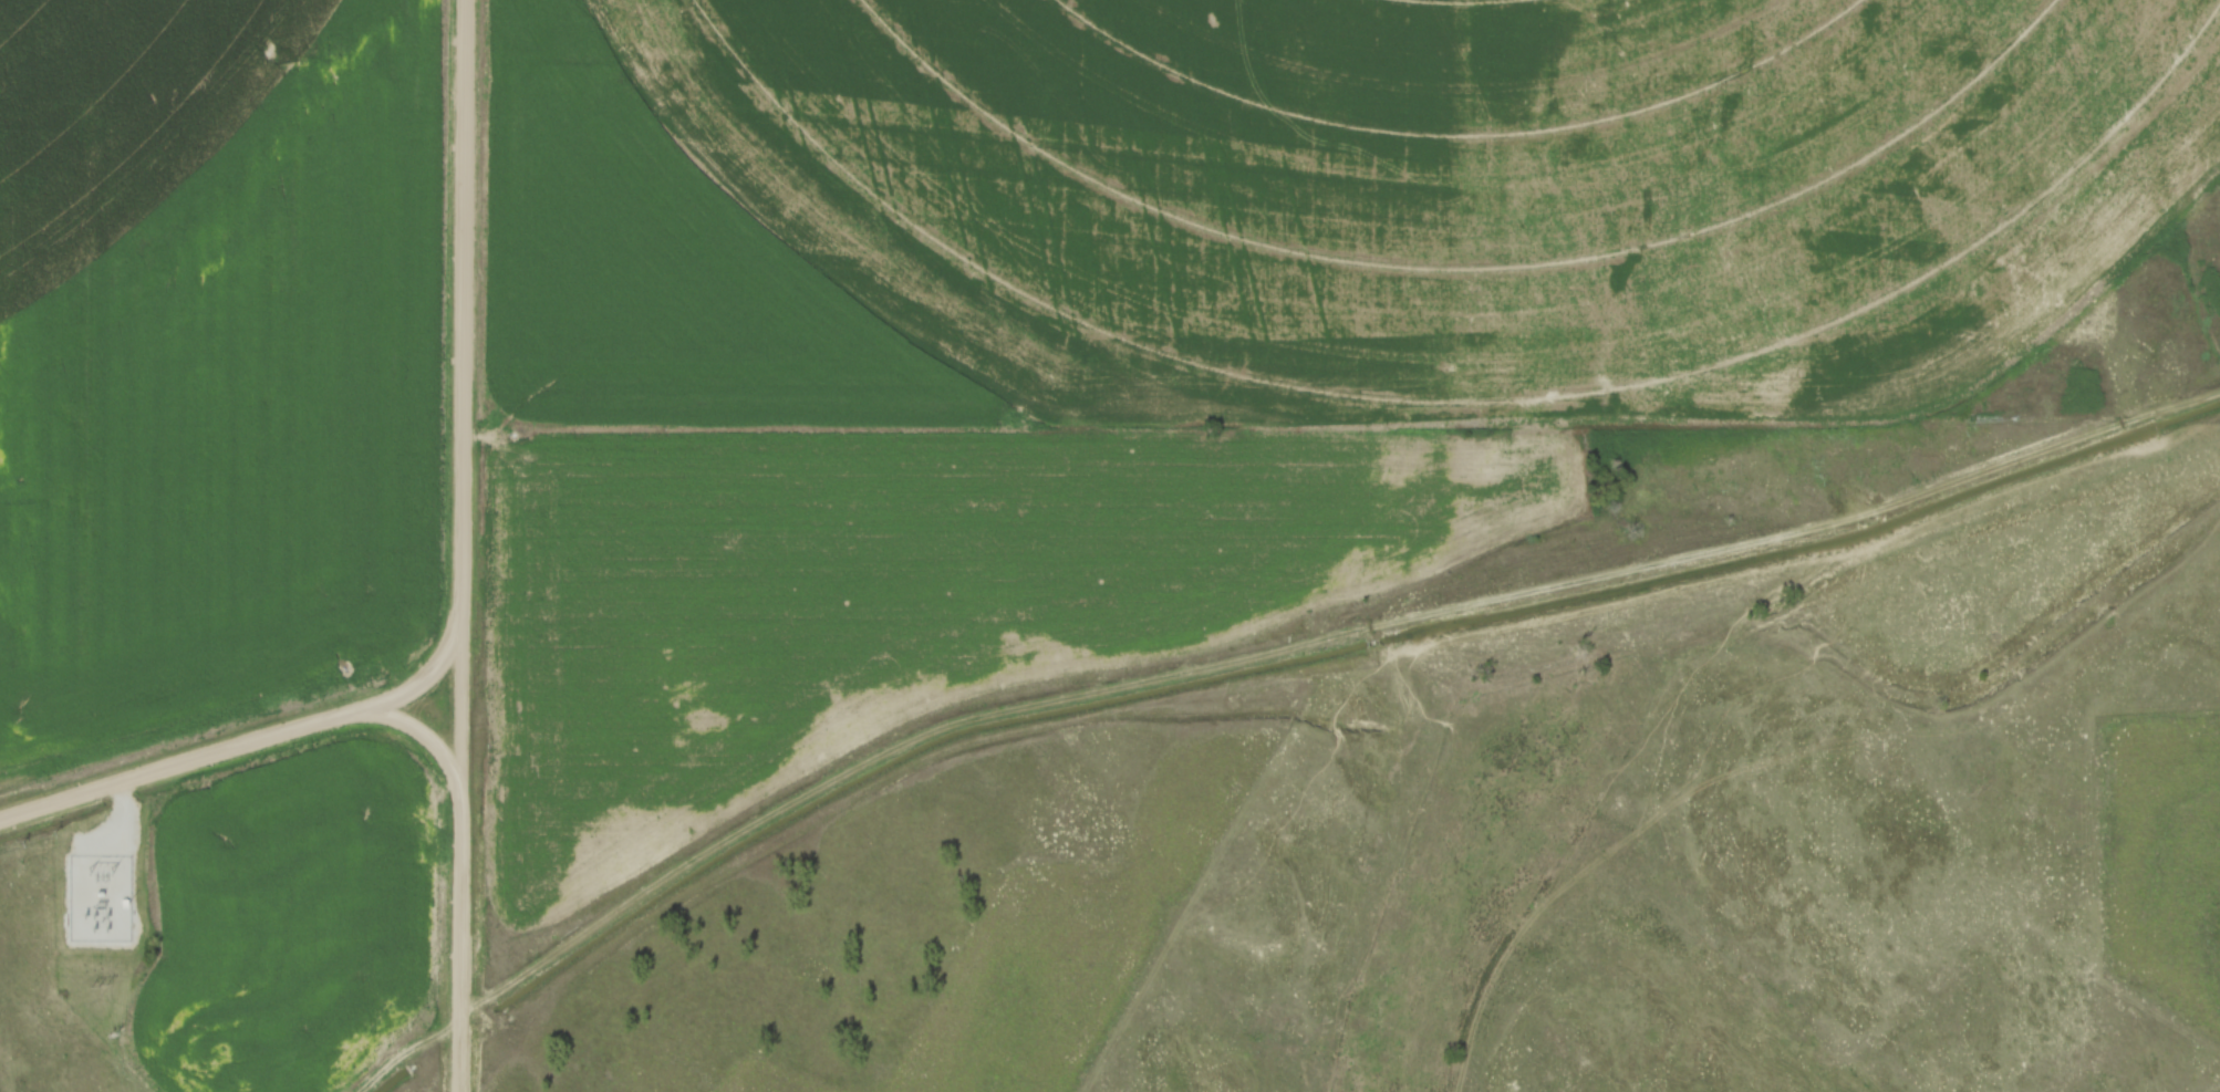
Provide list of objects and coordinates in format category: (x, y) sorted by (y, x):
road: (463, 545)
road: (427, 734)
road: (248, 740)
road: (121, 817)
power tower: (100, 866)
power substation: (101, 895)
power tower: (100, 984)

